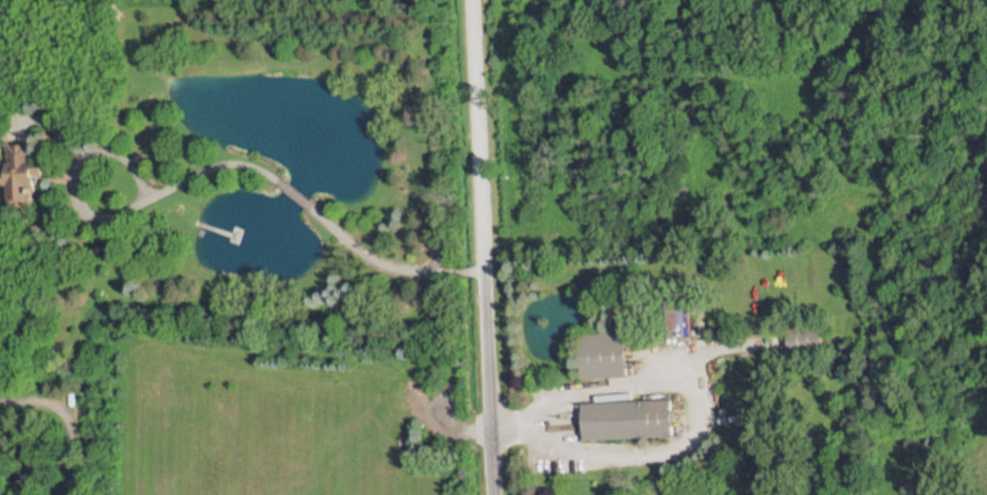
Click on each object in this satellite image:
road: (476, 129)
building: (22, 178)
road: (487, 376)
building: (623, 412)
road: (694, 437)

